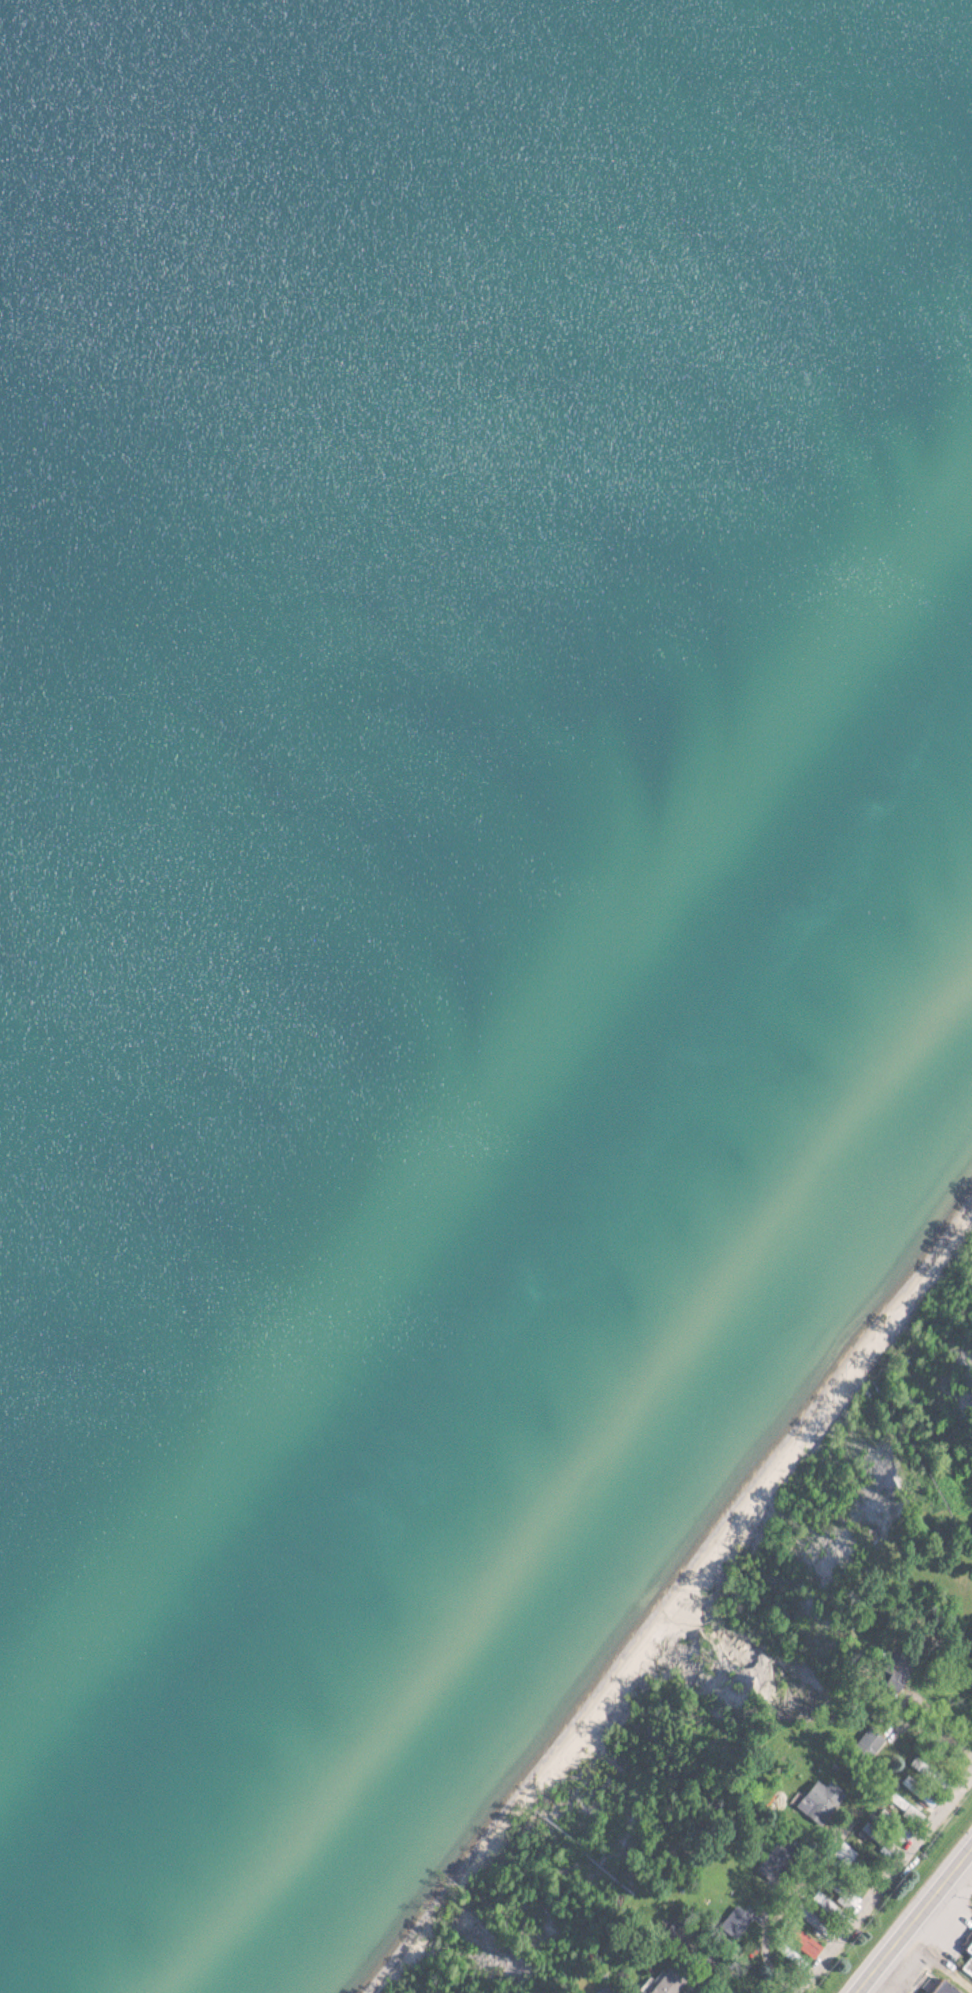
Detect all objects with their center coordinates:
building: (872, 1740)
building: (819, 1801)
road: (970, 1857)
road: (887, 1887)
road: (916, 1922)
building: (970, 1951)
building: (968, 1967)
building: (674, 1984)
building: (948, 1988)
building: (604, 1992)

